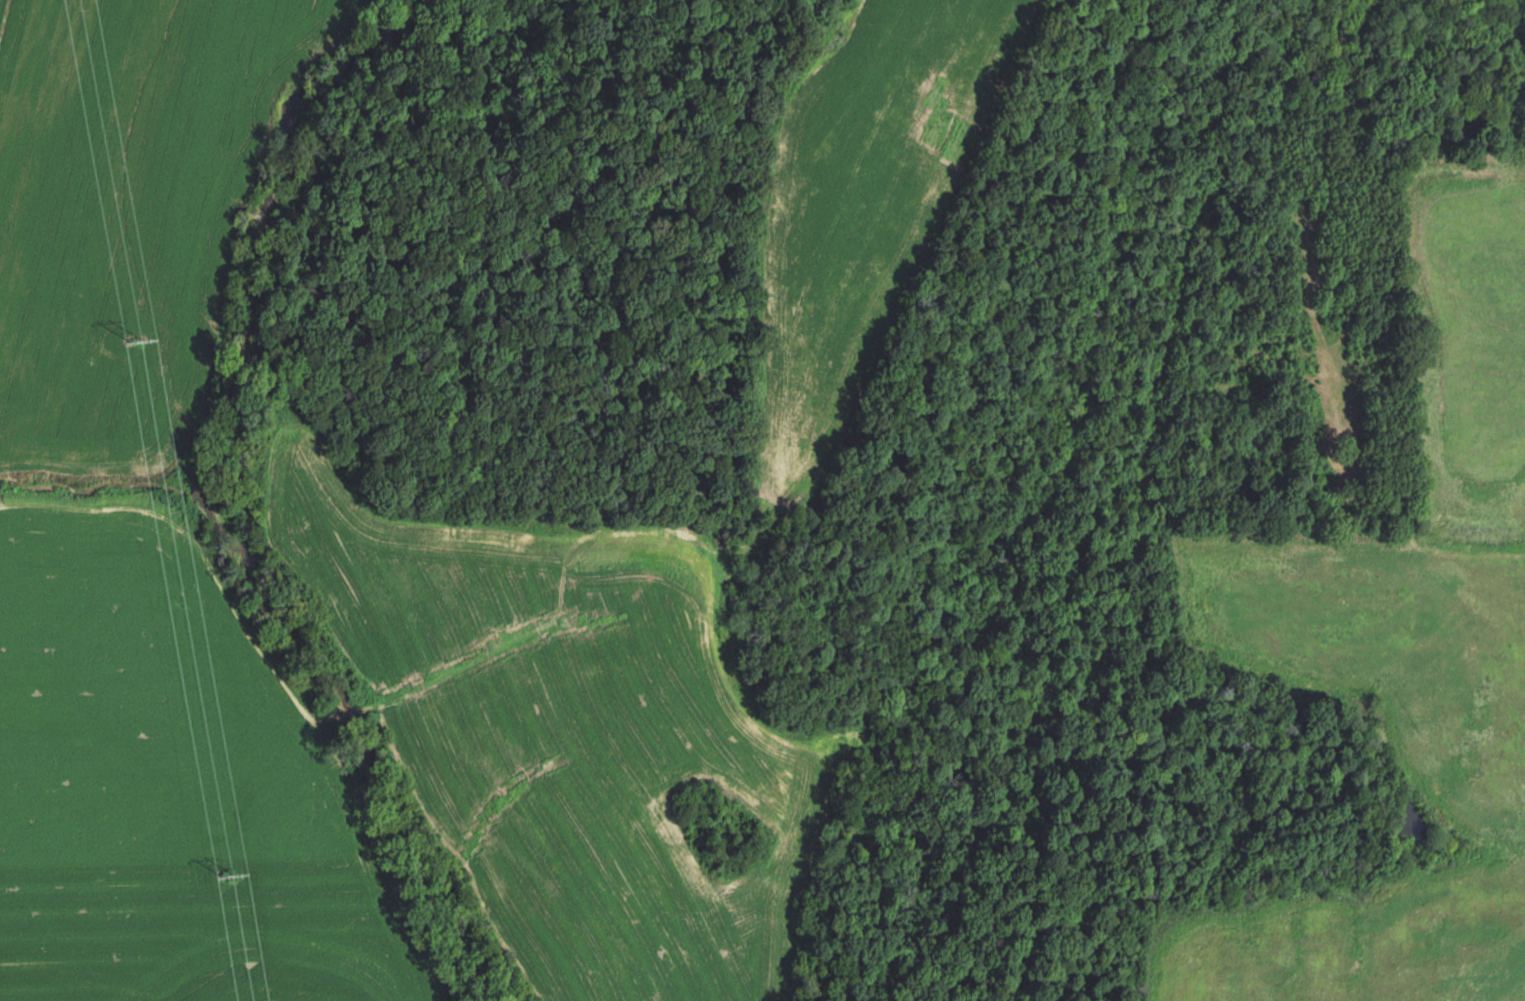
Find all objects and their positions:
power tower: (135, 343)
power tower: (226, 877)

